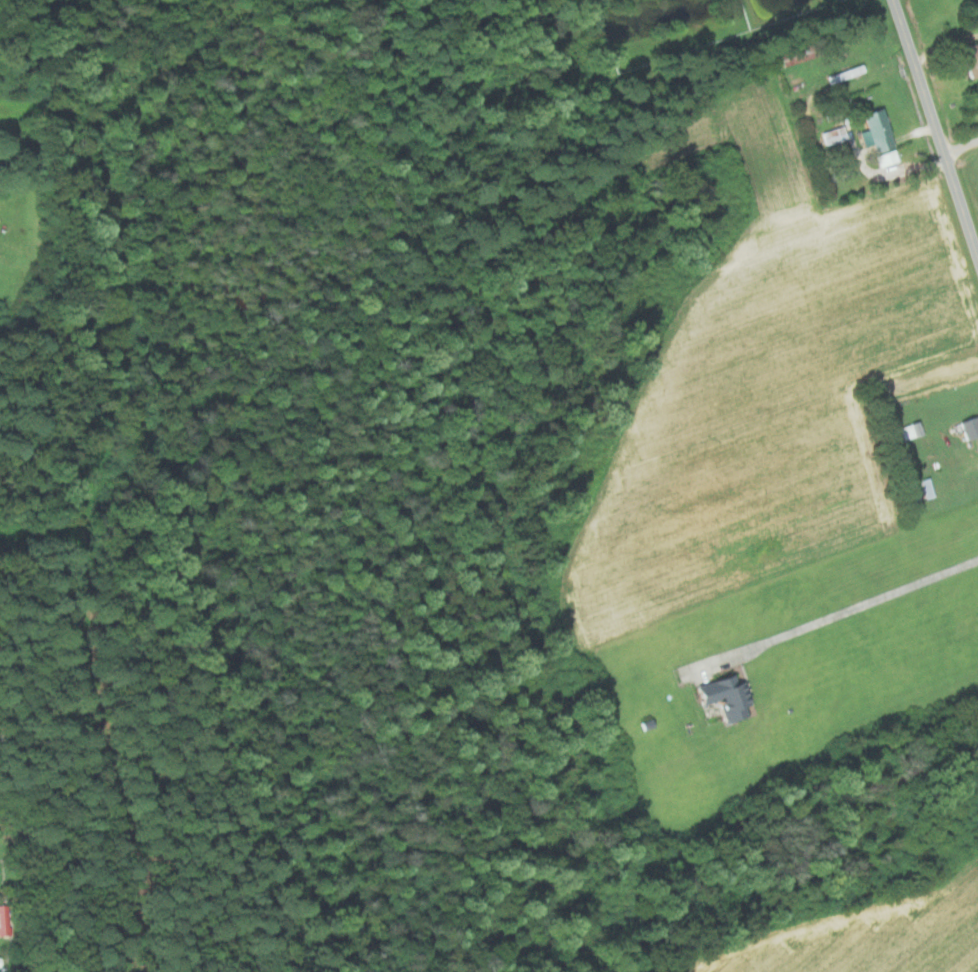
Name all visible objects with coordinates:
building: (789, 57)
road: (934, 128)
building: (874, 131)
building: (833, 135)
road: (960, 146)
building: (886, 157)
building: (846, 165)
building: (909, 429)
building: (917, 490)
road: (855, 606)
building: (723, 696)
building: (5, 920)

